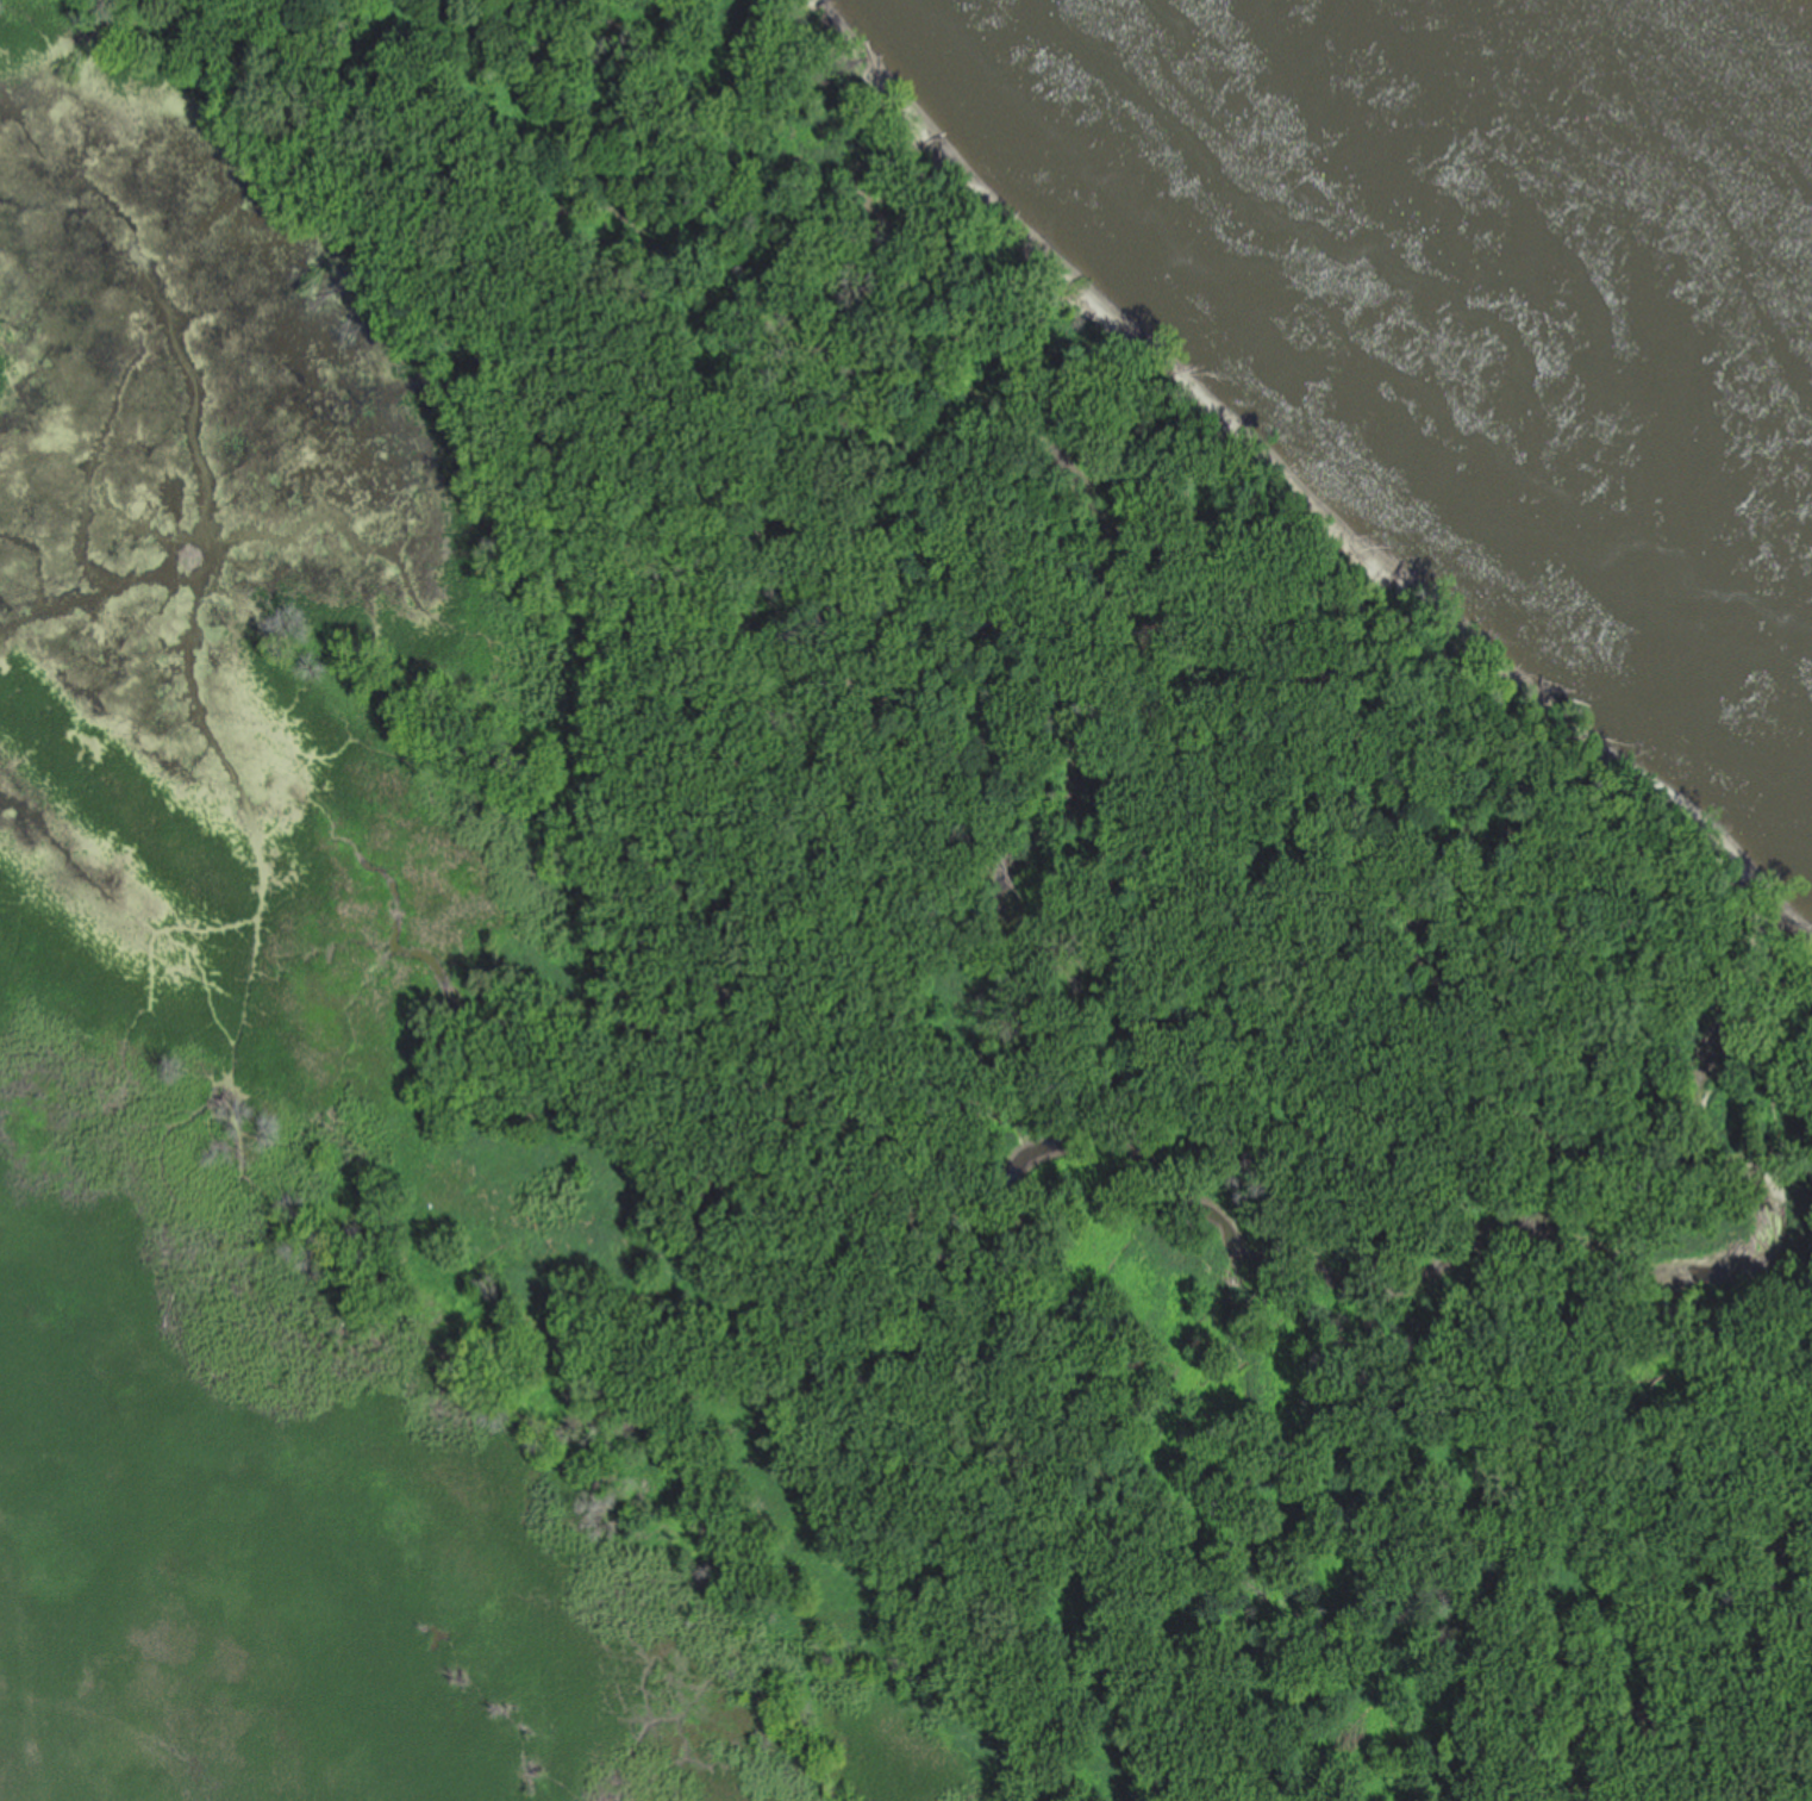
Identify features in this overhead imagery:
river: (1626, 177)

